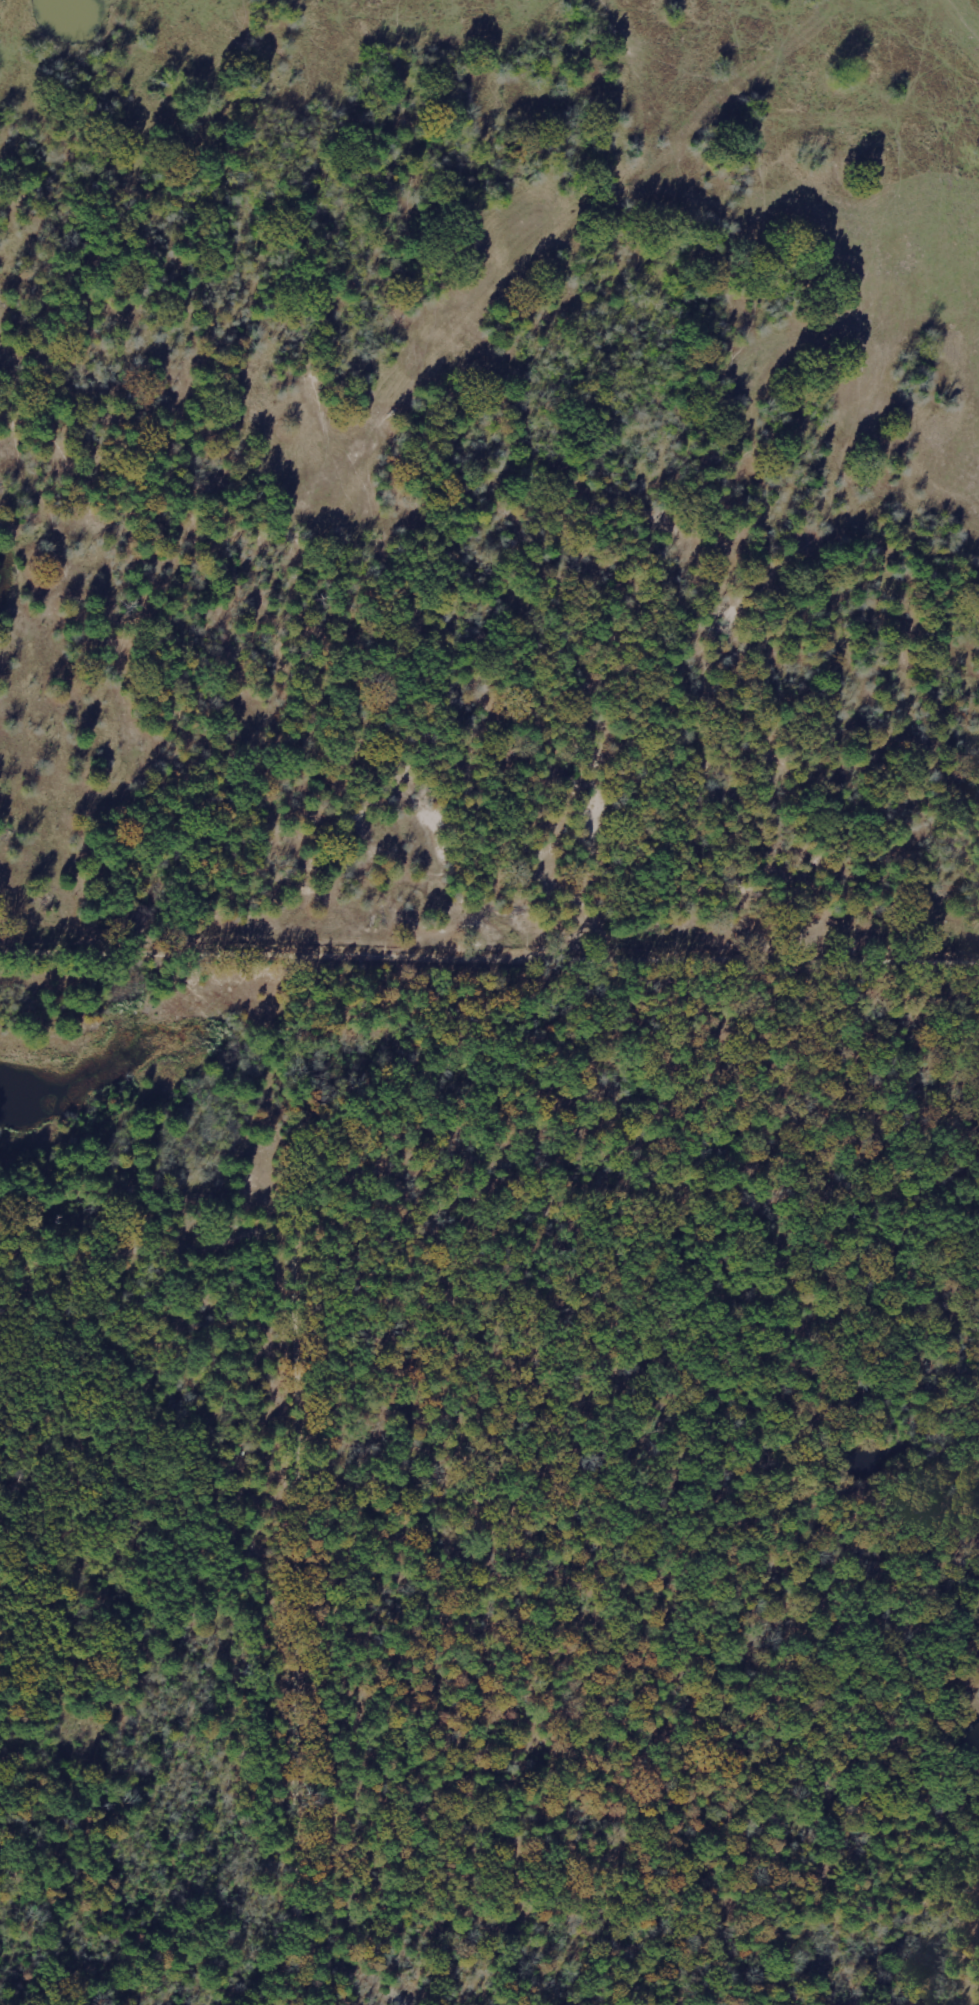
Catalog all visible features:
road: (487, 960)

